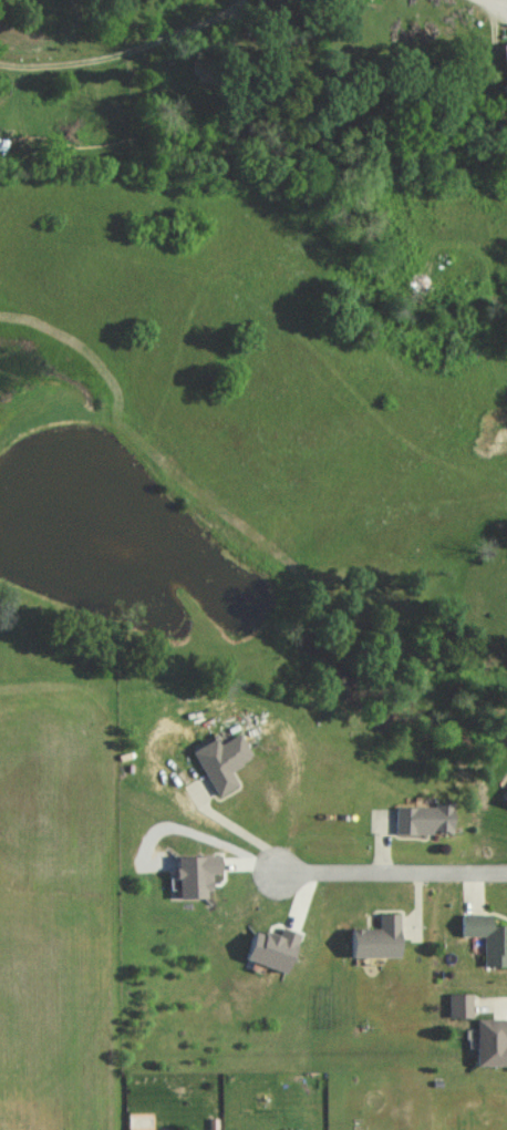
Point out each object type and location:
road: (495, 4)
building: (217, 759)
building: (504, 794)
building: (417, 816)
road: (392, 869)
building: (189, 873)
building: (484, 936)
building: (371, 937)
building: (267, 947)
building: (456, 1004)
building: (488, 1039)
building: (288, 1129)

